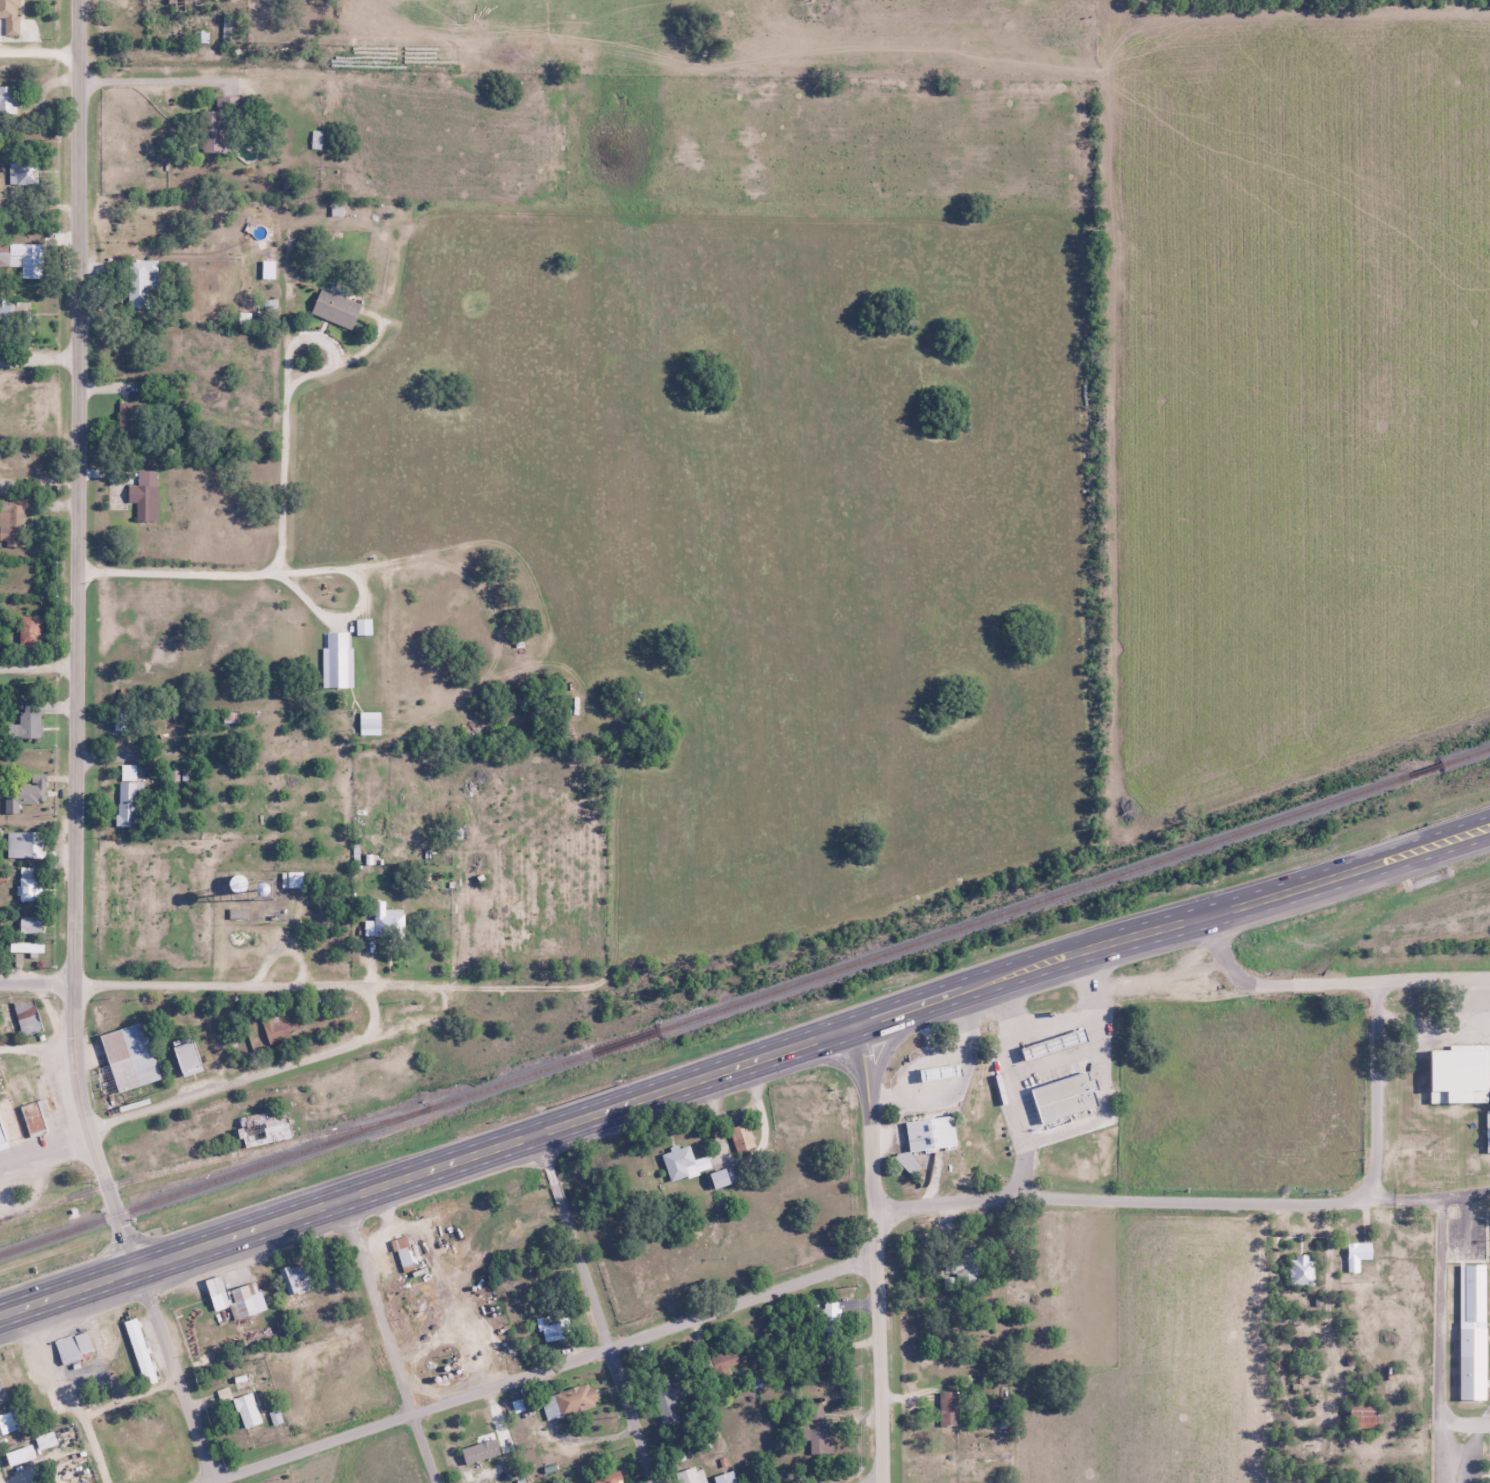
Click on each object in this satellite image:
building: (9, 18)
road: (40, 49)
road: (155, 80)
building: (9, 98)
building: (211, 131)
building: (316, 139)
building: (22, 174)
building: (23, 258)
building: (142, 283)
building: (335, 308)
building: (21, 309)
road: (39, 360)
building: (130, 418)
road: (78, 492)
building: (144, 496)
building: (31, 628)
road: (38, 667)
building: (337, 667)
building: (28, 724)
building: (26, 793)
building: (127, 804)
road: (1415, 839)
building: (21, 843)
road: (1419, 862)
building: (1437, 876)
building: (28, 884)
railway: (1074, 888)
road: (1280, 895)
building: (383, 920)
building: (29, 924)
building: (25, 947)
road: (1330, 982)
road: (37, 984)
road: (264, 984)
road: (377, 1012)
building: (18, 1016)
building: (282, 1023)
railway: (626, 1041)
building: (1062, 1042)
gas station: (1062, 1042)
building: (185, 1055)
building: (126, 1059)
building: (939, 1072)
building: (1463, 1075)
road: (235, 1083)
building: (1074, 1098)
road: (1376, 1098)
road: (605, 1109)
building: (34, 1115)
road: (89, 1129)
building: (1487, 1130)
building: (265, 1133)
building: (1, 1136)
building: (750, 1136)
building: (925, 1138)
railway: (296, 1152)
railway: (214, 1158)
building: (692, 1161)
building: (1436, 1169)
building: (730, 1176)
building: (718, 1177)
road: (1418, 1198)
road: (1110, 1201)
building: (403, 1253)
road: (876, 1253)
building: (1354, 1255)
building: (965, 1268)
building: (1300, 1269)
building: (297, 1278)
building: (217, 1292)
building: (243, 1301)
road: (594, 1308)
building: (550, 1328)
building: (1478, 1330)
road: (1442, 1336)
road: (391, 1341)
building: (67, 1348)
building: (140, 1351)
building: (722, 1363)
road: (542, 1370)
road: (177, 1375)
building: (243, 1380)
building: (568, 1401)
building: (667, 1404)
building: (948, 1408)
building: (246, 1410)
building: (6, 1423)
building: (45, 1441)
building: (819, 1441)
building: (19, 1455)
building: (691, 1475)
building: (725, 1477)
building: (608, 1478)
building: (75, 1482)
road: (881, 1482)

